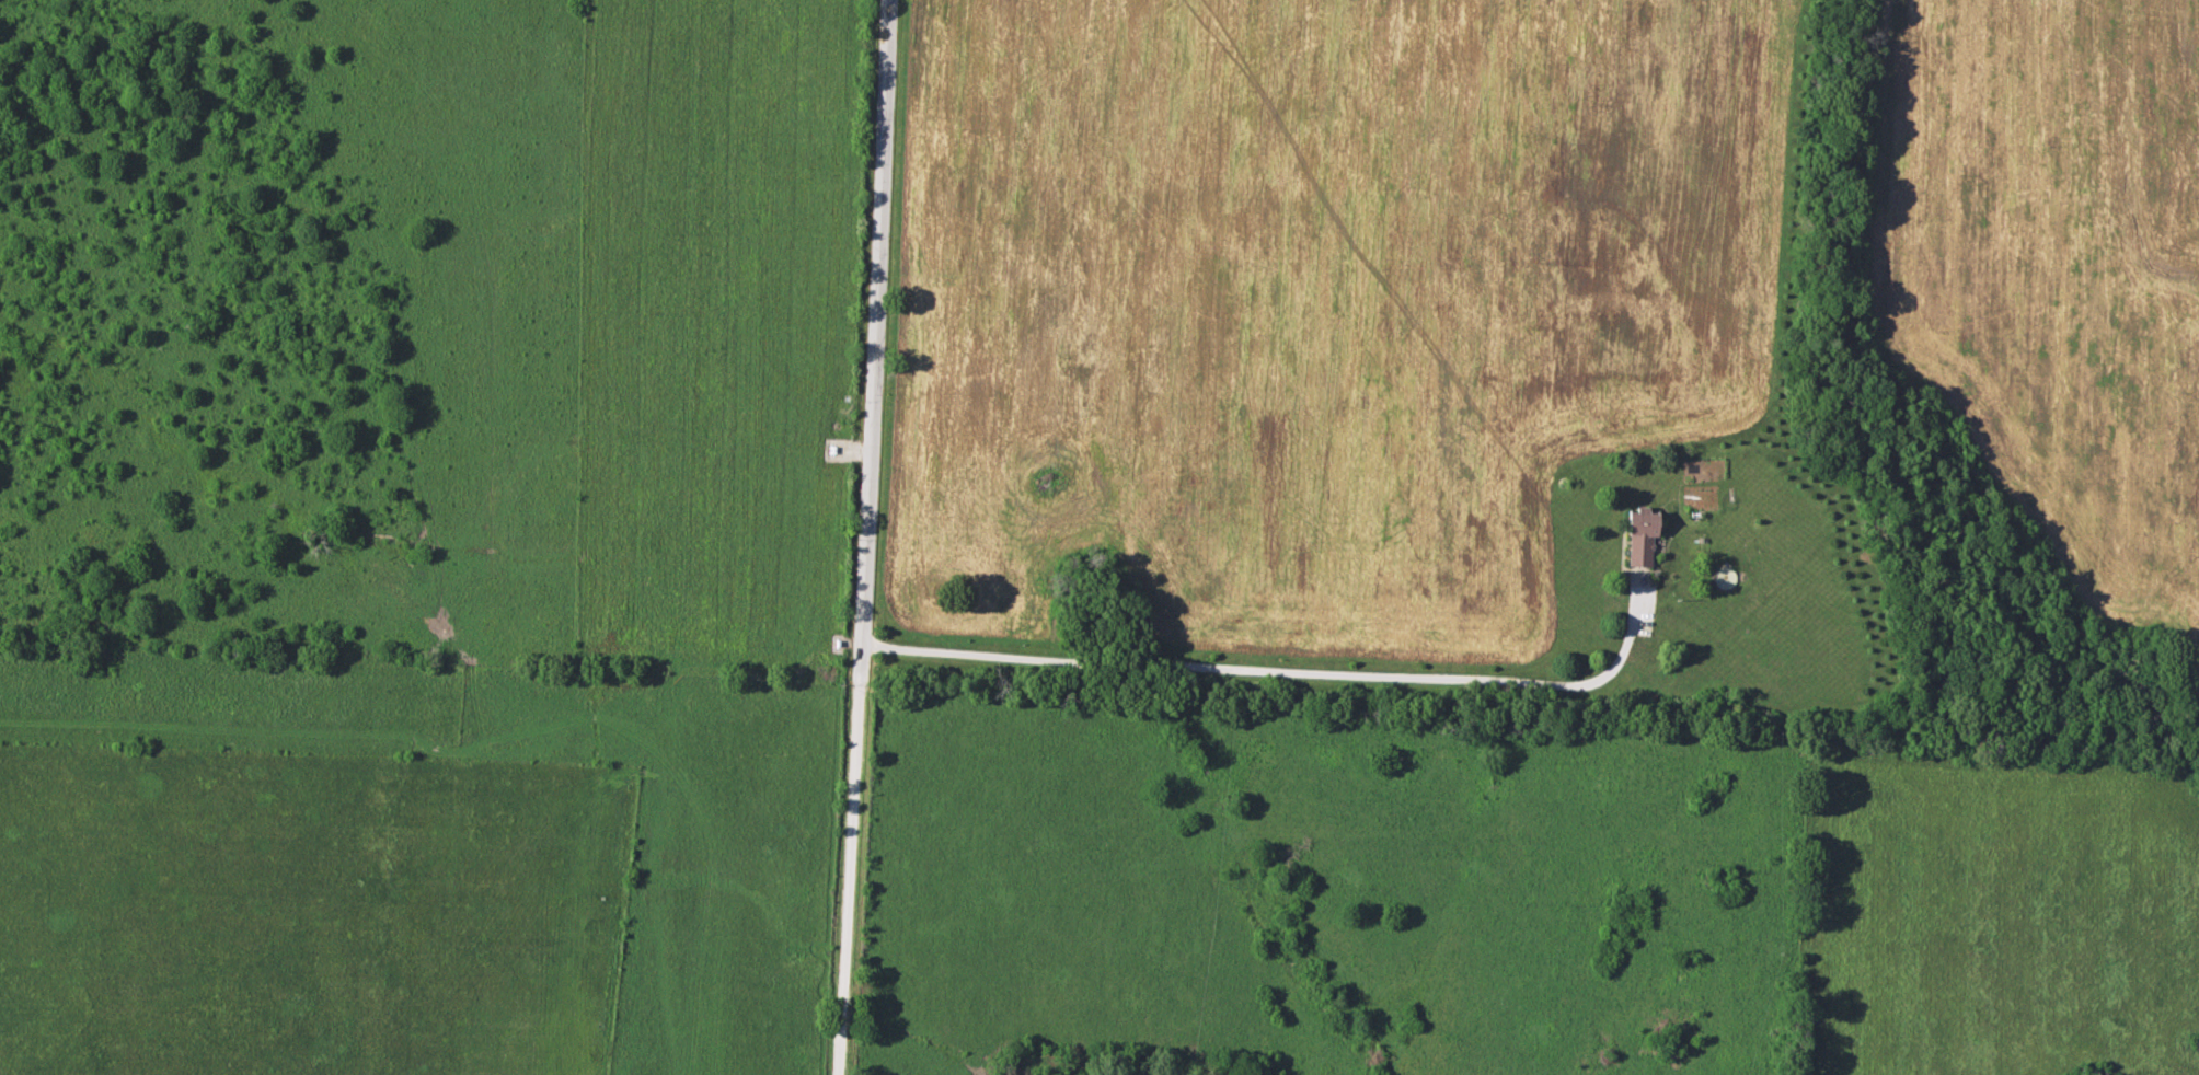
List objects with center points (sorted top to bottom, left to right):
crop: (716, 332)
building: (834, 450)
road: (866, 537)
building: (1639, 539)
road: (1282, 671)
building: (2196, 1042)

